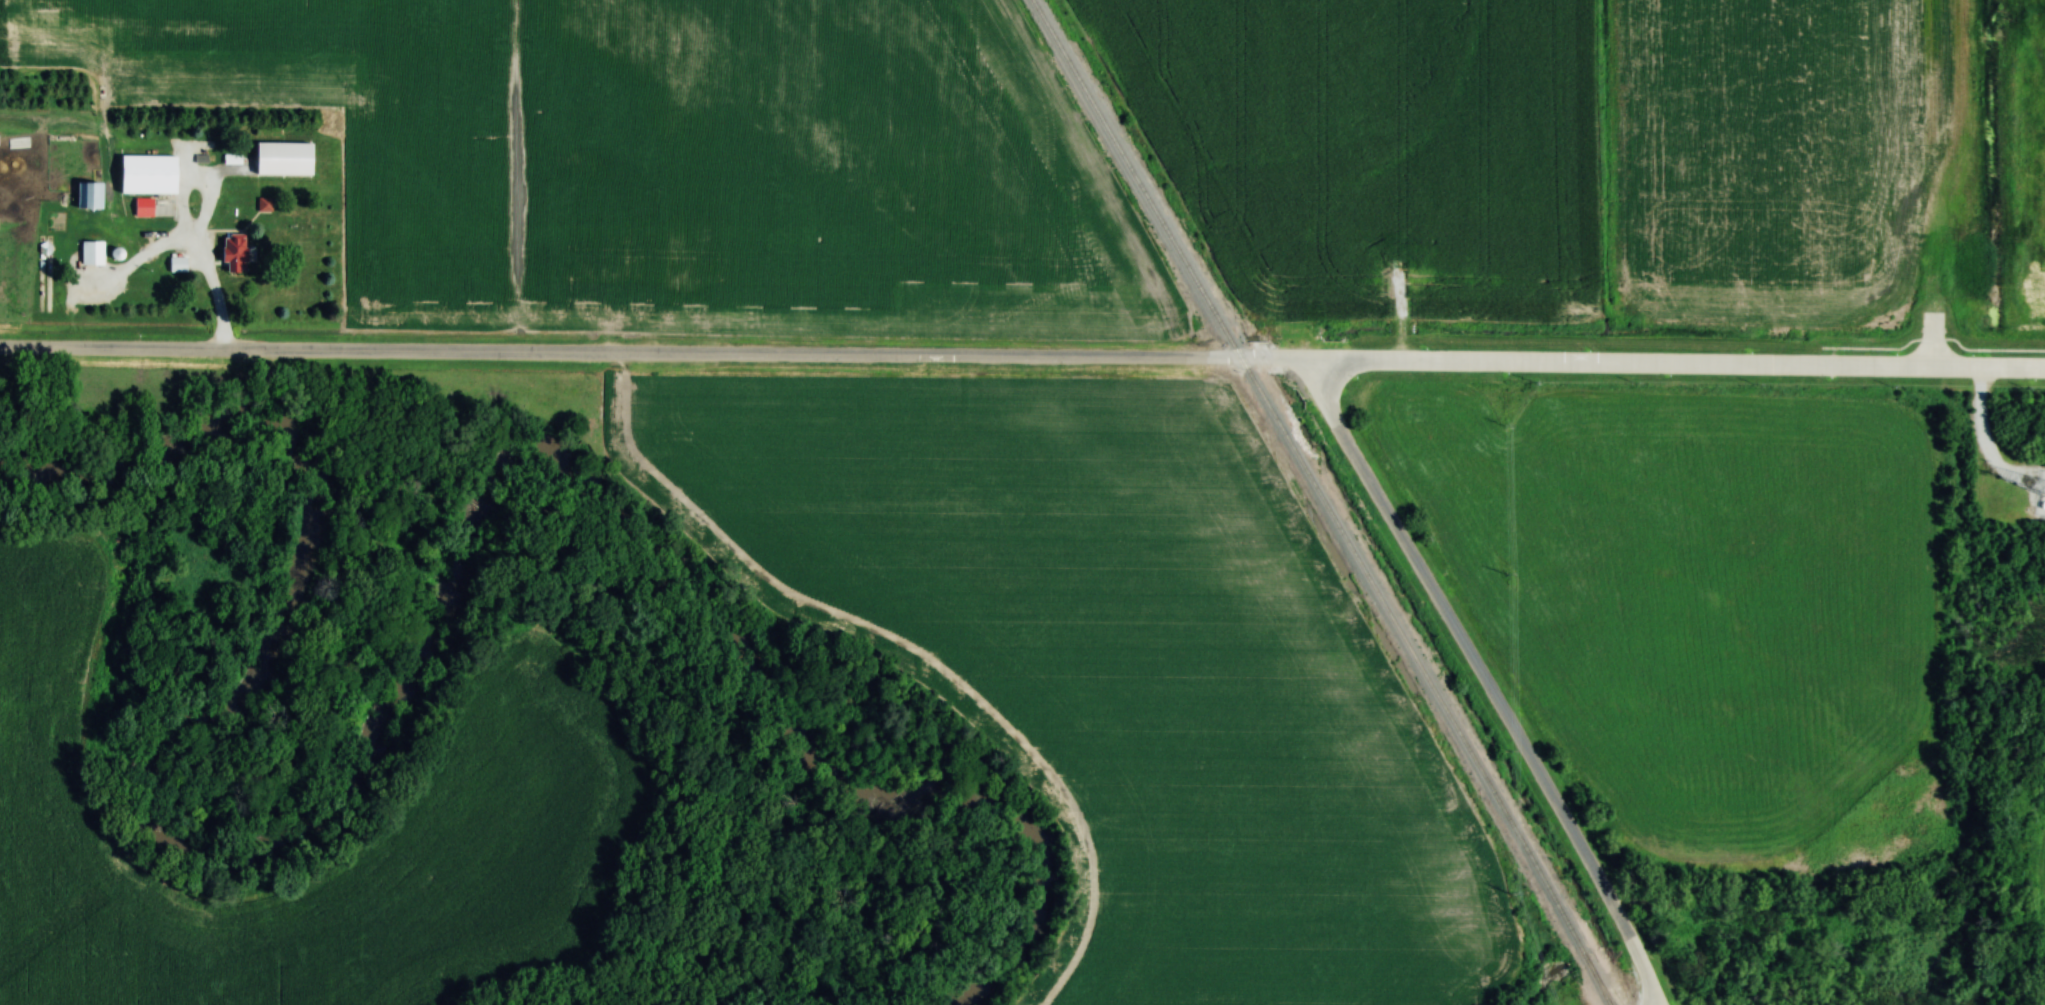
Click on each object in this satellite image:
building: (280, 152)
crop: (1790, 161)
building: (145, 169)
building: (86, 189)
building: (143, 204)
building: (262, 205)
road: (195, 245)
building: (90, 249)
building: (228, 251)
road: (131, 261)
building: (174, 263)
road: (608, 353)
road: (1269, 358)
road: (1618, 364)
road: (1979, 369)
railway: (1322, 501)
crop: (1129, 670)
river: (422, 681)
road: (1483, 682)
crop: (514, 767)

